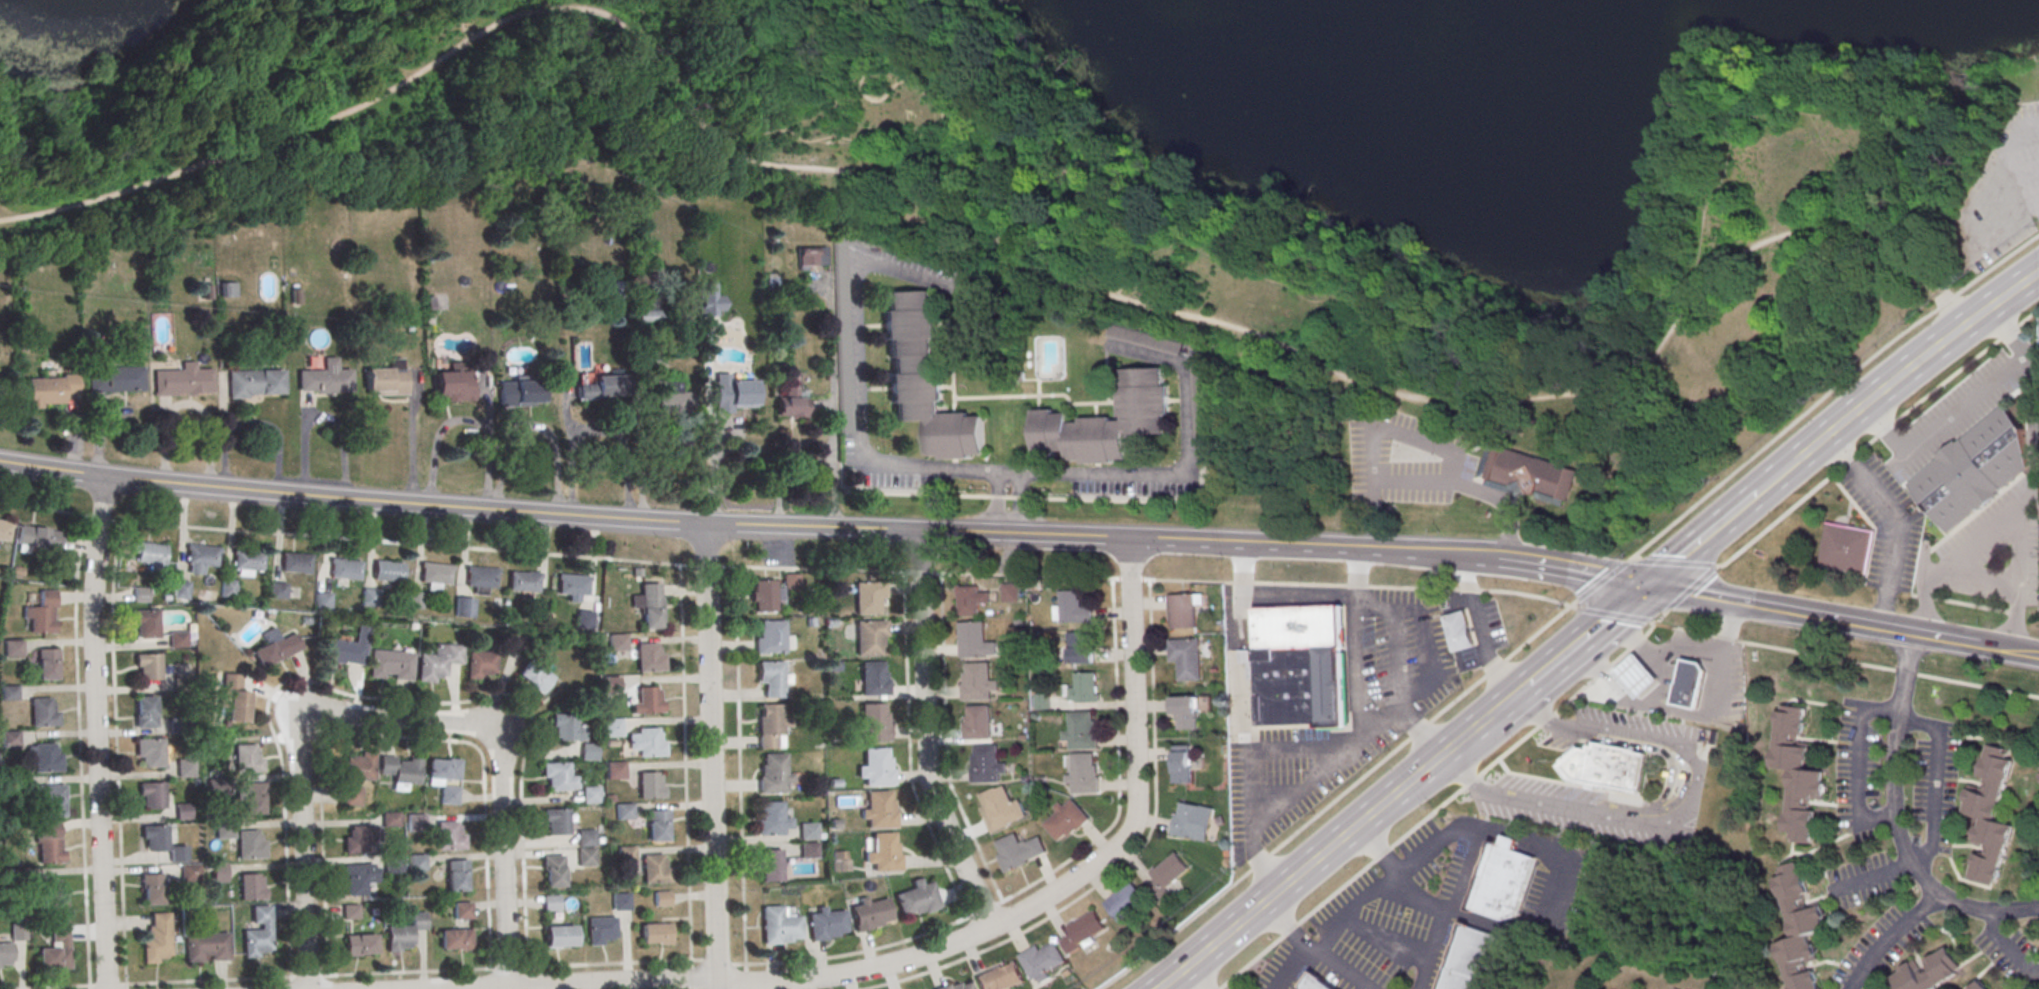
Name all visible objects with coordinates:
road: (648, 14)
road: (768, 18)
road: (779, 21)
road: (803, 27)
road: (662, 46)
road: (380, 66)
road: (566, 71)
road: (197, 73)
road: (1710, 79)
road: (1729, 79)
road: (933, 80)
road: (1056, 86)
road: (892, 87)
road: (218, 88)
road: (1721, 104)
road: (745, 107)
road: (1777, 112)
road: (1038, 126)
park: (1178, 166)
road: (987, 170)
road: (1086, 172)
road: (45, 174)
parking lot: (2001, 194)
road: (1003, 198)
road: (1149, 211)
road: (11, 212)
road: (970, 220)
road: (982, 220)
road: (1308, 240)
road: (1034, 249)
road: (1264, 255)
building: (812, 256)
road: (1992, 269)
road: (1062, 272)
road: (1953, 279)
road: (1274, 283)
building: (227, 288)
building: (206, 290)
road: (2000, 298)
road: (1949, 308)
building: (646, 316)
road: (1425, 317)
building: (1144, 339)
building: (325, 379)
building: (925, 379)
building: (387, 380)
building: (115, 381)
building: (184, 382)
building: (255, 384)
building: (454, 387)
building: (601, 389)
building: (50, 391)
road: (1879, 391)
building: (523, 395)
building: (734, 396)
building: (672, 400)
road: (188, 405)
building: (791, 405)
road: (224, 406)
road: (306, 406)
road: (165, 410)
road: (324, 416)
road: (1223, 416)
road: (862, 421)
road: (253, 422)
building: (1107, 423)
road: (497, 424)
road: (1941, 425)
road: (598, 429)
road: (1372, 430)
road: (73, 433)
road: (98, 435)
road: (412, 440)
parking lot: (1407, 460)
road: (489, 467)
road: (503, 467)
road: (1179, 468)
road: (712, 469)
road: (1838, 470)
building: (1973, 471)
road: (1777, 475)
building: (1526, 476)
road: (1470, 488)
road: (2031, 488)
road: (1017, 496)
road: (563, 514)
road: (1896, 520)
building: (5, 532)
road: (1700, 538)
building: (40, 540)
road: (1312, 546)
building: (1846, 550)
building: (151, 557)
building: (201, 557)
building: (248, 562)
building: (294, 564)
building: (345, 571)
road: (1569, 571)
building: (388, 573)
building: (436, 575)
road: (1979, 575)
road: (1023, 576)
building: (481, 578)
road: (2018, 581)
building: (524, 583)
building: (572, 585)
traffic signals: (1644, 585)
building: (227, 588)
building: (180, 589)
building: (276, 590)
building: (772, 592)
building: (1011, 593)
building: (140, 594)
building: (370, 599)
building: (869, 599)
road: (1299, 599)
building: (322, 602)
building: (414, 602)
building: (972, 602)
building: (648, 604)
building: (1072, 607)
building: (463, 608)
road: (1776, 610)
building: (41, 612)
building: (1182, 612)
building: (583, 621)
building: (143, 623)
road: (1479, 628)
road: (1587, 632)
building: (1460, 633)
road: (1422, 635)
building: (176, 638)
building: (769, 638)
road: (1942, 638)
building: (515, 639)
building: (870, 639)
building: (616, 641)
building: (975, 643)
road: (1637, 644)
building: (275, 646)
road: (1521, 646)
building: (12, 647)
building: (1079, 647)
building: (345, 649)
road: (2006, 650)
road: (1621, 658)
building: (648, 659)
building: (1185, 659)
building: (1700, 659)
building: (478, 665)
building: (47, 666)
building: (146, 666)
building: (388, 666)
building: (431, 666)
building: (1302, 668)
road: (1603, 674)
building: (532, 676)
building: (1638, 678)
building: (769, 679)
building: (873, 681)
road: (1362, 681)
building: (979, 683)
building: (1690, 686)
building: (1083, 687)
building: (233, 697)
road: (1509, 697)
road: (1573, 699)
building: (647, 702)
building: (144, 714)
road: (1685, 714)
building: (43, 715)
building: (1184, 715)
road: (397, 718)
road: (1239, 720)
building: (978, 724)
building: (873, 725)
building: (770, 726)
building: (565, 727)
road: (96, 732)
building: (1081, 733)
road: (925, 736)
building: (9, 738)
road: (946, 743)
building: (649, 745)
road: (1517, 746)
road: (79, 751)
building: (587, 751)
road: (114, 753)
building: (149, 753)
road: (710, 756)
building: (247, 758)
building: (46, 760)
road: (1858, 760)
building: (2038, 761)
building: (1181, 763)
road: (684, 764)
building: (1608, 765)
road: (739, 766)
building: (185, 767)
building: (987, 767)
building: (357, 768)
building: (614, 769)
building: (877, 769)
road: (910, 769)
building: (441, 771)
road: (1118, 771)
road: (1317, 771)
building: (398, 772)
building: (772, 775)
building: (2037, 775)
building: (557, 776)
building: (1083, 776)
building: (1797, 777)
road: (1935, 780)
road: (1472, 784)
building: (650, 787)
building: (589, 794)
building: (151, 796)
building: (253, 797)
building: (51, 801)
building: (1000, 810)
building: (182, 811)
building: (624, 811)
building: (880, 811)
road: (1677, 816)
building: (1990, 816)
building: (388, 818)
building: (1066, 819)
building: (555, 821)
building: (771, 821)
road: (1428, 821)
building: (414, 822)
road: (1895, 822)
building: (1193, 823)
road: (1465, 823)
building: (658, 825)
building: (224, 829)
building: (808, 832)
building: (449, 835)
building: (356, 838)
road: (1531, 841)
building: (250, 843)
building: (161, 844)
building: (47, 845)
building: (586, 847)
road: (303, 849)
road: (1377, 850)
building: (810, 851)
road: (1323, 852)
building: (626, 853)
building: (1018, 853)
building: (884, 855)
road: (500, 856)
road: (1383, 858)
building: (840, 860)
road: (1127, 861)
building: (415, 862)
building: (392, 863)
building: (771, 867)
building: (553, 870)
building: (655, 871)
building: (1168, 873)
building: (189, 874)
building: (456, 875)
road: (1871, 875)
building: (357, 877)
building: (1503, 880)
building: (251, 885)
building: (151, 891)
road: (1560, 893)
road: (1337, 895)
building: (51, 897)
building: (662, 898)
road: (1420, 898)
building: (620, 900)
building: (917, 900)
building: (1125, 900)
building: (550, 902)
road: (1358, 908)
building: (462, 909)
road: (1453, 909)
building: (350, 910)
building: (870, 916)
road: (1285, 925)
road: (1495, 925)
building: (827, 926)
building: (601, 928)
building: (779, 928)
building: (1798, 928)
building: (17, 931)
building: (405, 931)
building: (1084, 931)
road: (1291, 931)
building: (257, 932)
building: (656, 933)
building: (559, 935)
road: (1888, 935)
building: (455, 939)
building: (156, 941)
road: (1386, 942)
road: (954, 943)
building: (359, 944)
road: (2008, 947)
building: (206, 948)
building: (56, 951)
road: (859, 952)
building: (6, 955)
building: (1472, 959)
building: (1043, 961)
road: (1253, 964)
road: (730, 965)
road: (1333, 970)
road: (363, 974)
road: (691, 974)
building: (1930, 974)
building: (1000, 977)
road: (1192, 979)
building: (1316, 984)
building: (1979, 986)
building: (958, 987)

